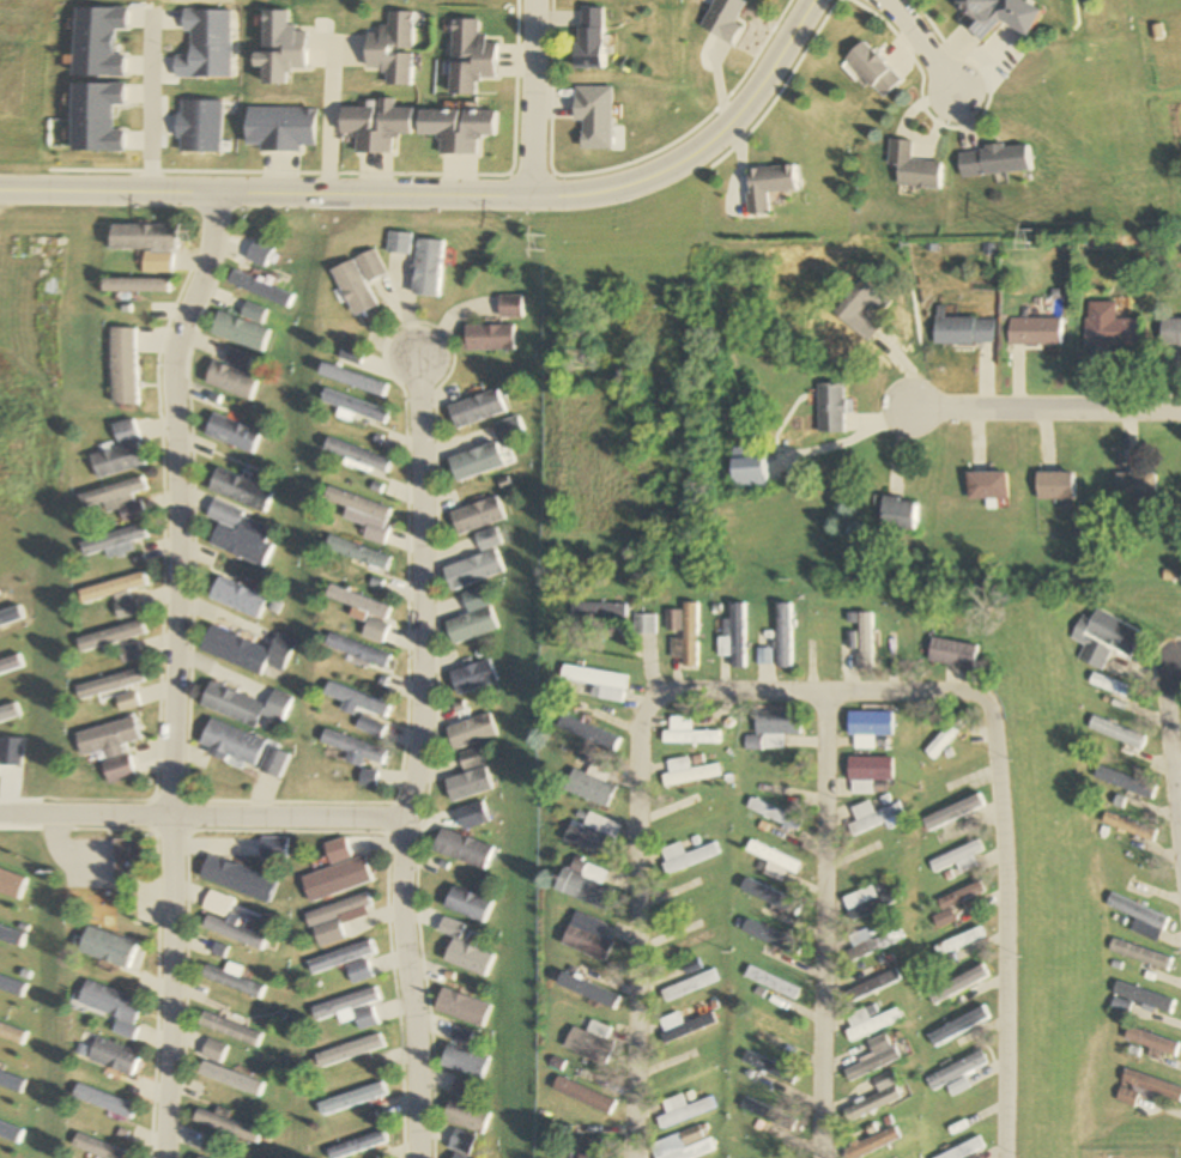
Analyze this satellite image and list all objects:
building: (977, 14)
building: (721, 20)
road: (912, 37)
building: (587, 40)
building: (200, 46)
building: (275, 49)
building: (388, 49)
building: (465, 57)
building: (872, 71)
road: (533, 98)
road: (141, 108)
road: (322, 121)
building: (375, 127)
building: (455, 129)
building: (997, 160)
building: (913, 168)
building: (767, 187)
road: (449, 196)
power tower: (190, 238)
power tower: (1030, 238)
power tower: (544, 243)
building: (149, 245)
building: (430, 267)
building: (364, 280)
building: (141, 285)
building: (265, 289)
building: (508, 307)
building: (862, 308)
building: (1109, 326)
building: (247, 328)
building: (962, 328)
building: (1036, 332)
building: (1171, 332)
building: (486, 337)
building: (353, 354)
building: (127, 365)
building: (353, 378)
building: (230, 380)
building: (353, 405)
road: (1047, 406)
building: (831, 407)
building: (473, 408)
building: (505, 430)
building: (228, 432)
building: (117, 451)
building: (353, 453)
building: (471, 461)
building: (987, 485)
building: (1053, 485)
building: (1135, 487)
building: (232, 489)
building: (113, 497)
building: (359, 513)
building: (898, 514)
building: (471, 515)
building: (231, 534)
building: (108, 539)
building: (352, 552)
building: (471, 563)
building: (111, 594)
building: (230, 598)
building: (353, 602)
building: (596, 610)
building: (466, 618)
building: (644, 624)
building: (369, 630)
building: (683, 633)
building: (107, 636)
building: (783, 636)
building: (734, 637)
building: (1103, 638)
building: (865, 642)
building: (243, 653)
building: (356, 653)
building: (953, 653)
building: (125, 654)
road: (170, 673)
building: (107, 684)
building: (600, 684)
building: (1112, 686)
road: (820, 693)
building: (351, 699)
building: (125, 702)
building: (241, 705)
building: (870, 724)
building: (364, 727)
building: (771, 729)
building: (465, 732)
building: (688, 733)
building: (1120, 733)
building: (947, 734)
building: (229, 744)
building: (110, 747)
building: (350, 750)
road: (1171, 753)
road: (410, 757)
building: (465, 759)
building: (269, 763)
building: (688, 772)
building: (867, 772)
building: (363, 777)
building: (464, 784)
building: (592, 784)
building: (771, 813)
building: (689, 816)
building: (873, 817)
road: (200, 818)
building: (1129, 825)
building: (593, 835)
building: (271, 849)
building: (129, 856)
building: (685, 856)
building: (957, 857)
building: (773, 860)
building: (235, 879)
building: (334, 879)
building: (586, 884)
building: (866, 901)
building: (955, 902)
building: (466, 904)
road: (640, 916)
building: (1139, 917)
building: (332, 918)
road: (1004, 921)
road: (822, 926)
building: (232, 932)
building: (586, 936)
building: (870, 941)
building: (958, 941)
building: (103, 947)
building: (1138, 954)
building: (341, 957)
building: (466, 957)
building: (689, 965)
building: (359, 971)
building: (231, 980)
building: (771, 982)
building: (868, 983)
building: (688, 984)
building: (1137, 1000)
building: (108, 1006)
building: (350, 1008)
building: (867, 1024)
building: (682, 1025)
building: (770, 1025)
building: (957, 1026)
building: (230, 1029)
building: (589, 1042)
building: (1151, 1043)
building: (213, 1050)
building: (349, 1050)
building: (109, 1056)
building: (871, 1060)
building: (459, 1061)
building: (769, 1068)
building: (955, 1072)
building: (231, 1079)
building: (456, 1089)
building: (1144, 1089)
building: (585, 1095)
building: (877, 1096)
building: (350, 1098)
building: (102, 1101)
building: (683, 1110)
building: (769, 1114)
building: (460, 1115)
building: (228, 1126)
building: (455, 1142)
building: (870, 1144)
building: (353, 1145)
building: (684, 1145)
building: (98, 1147)
building: (593, 1148)
building: (963, 1150)
building: (201, 1157)
building: (449, 1157)

